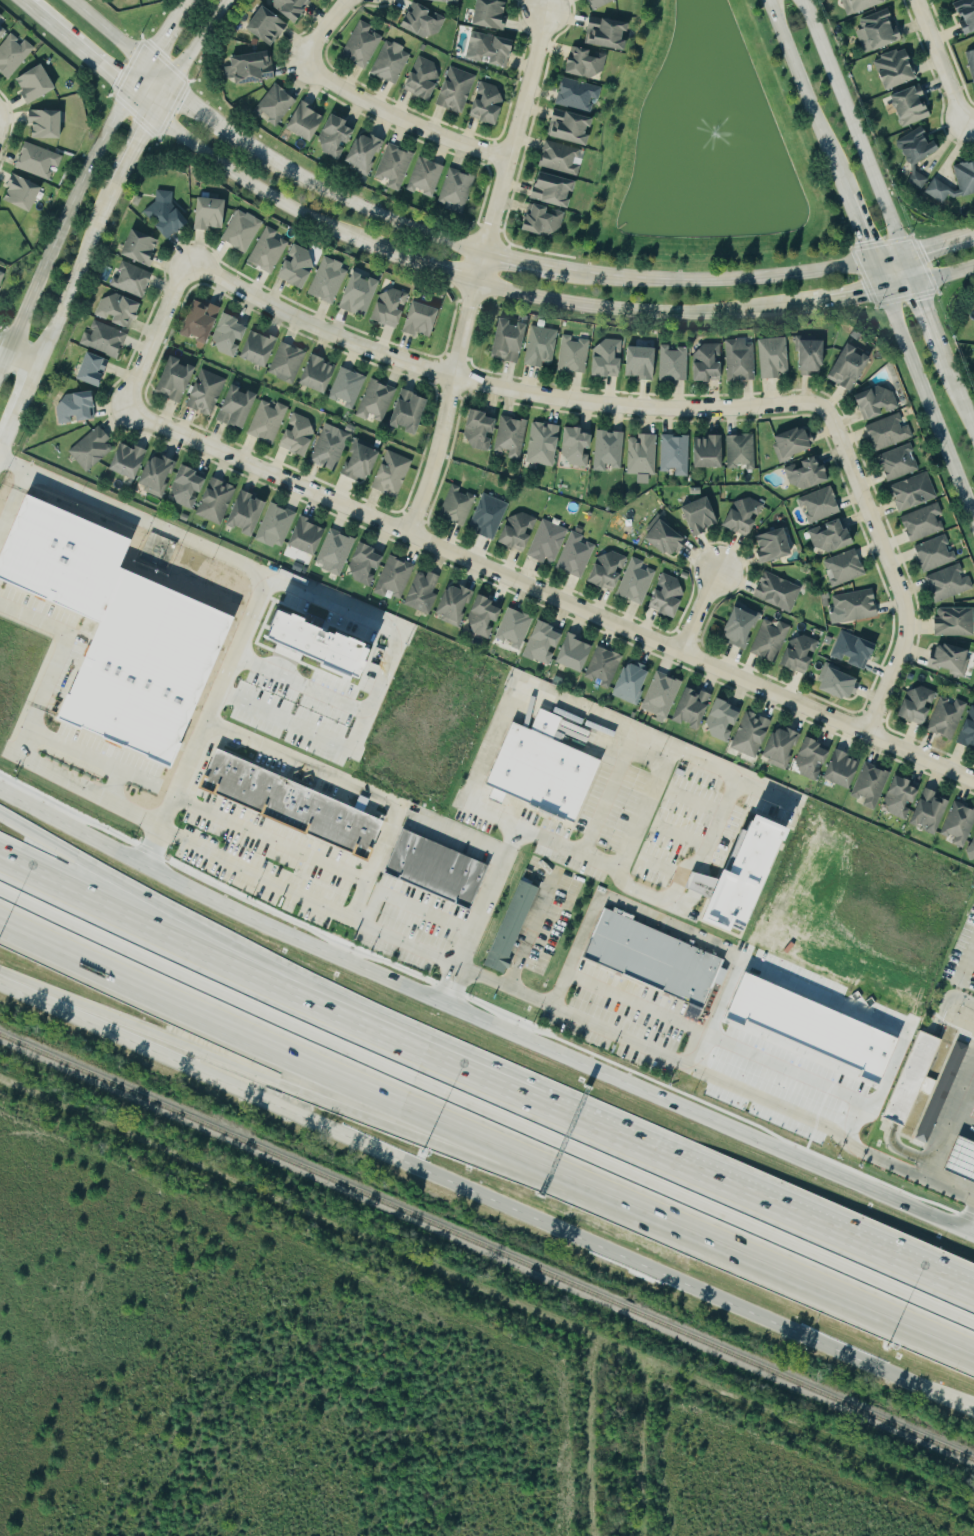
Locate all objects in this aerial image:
road: (23, 1)
building: (450, 1)
road: (184, 3)
building: (601, 3)
building: (862, 5)
building: (293, 8)
building: (493, 14)
building: (967, 15)
building: (1, 16)
building: (425, 21)
building: (269, 26)
road: (322, 27)
building: (2, 31)
building: (879, 31)
road: (105, 32)
building: (610, 34)
road: (161, 35)
building: (363, 45)
road: (75, 46)
building: (493, 49)
building: (13, 55)
road: (187, 55)
building: (972, 59)
building: (391, 62)
road: (937, 62)
building: (588, 64)
traffic signals: (142, 65)
building: (252, 68)
building: (899, 69)
road: (154, 76)
building: (424, 78)
building: (37, 84)
traffic signals: (167, 87)
traffic signals: (127, 90)
building: (457, 90)
building: (580, 95)
road: (805, 98)
road: (139, 101)
building: (276, 104)
building: (489, 104)
building: (914, 106)
road: (193, 110)
traffic signals: (152, 112)
road: (398, 118)
building: (308, 122)
road: (967, 122)
building: (48, 124)
building: (574, 127)
road: (848, 128)
road: (511, 133)
building: (338, 136)
fountain: (705, 141)
building: (921, 147)
road: (129, 153)
building: (366, 153)
building: (563, 159)
building: (40, 160)
building: (395, 167)
building: (426, 177)
building: (919, 179)
building: (938, 183)
building: (457, 190)
building: (556, 190)
building: (20, 192)
road: (264, 193)
building: (0, 206)
road: (64, 212)
building: (212, 214)
building: (169, 216)
building: (546, 221)
road: (858, 229)
building: (243, 231)
road: (937, 246)
building: (143, 248)
building: (269, 251)
traffic signals: (900, 257)
traffic signals: (871, 262)
building: (299, 266)
road: (431, 268)
road: (476, 269)
road: (546, 270)
road: (906, 271)
building: (2, 278)
road: (73, 279)
building: (134, 280)
building: (329, 280)
road: (928, 280)
traffic signals: (912, 285)
traffic signals: (882, 291)
building: (362, 295)
road: (844, 297)
building: (392, 308)
road: (638, 309)
building: (120, 310)
road: (923, 314)
building: (424, 320)
building: (204, 322)
road: (153, 334)
building: (232, 335)
building: (106, 340)
building: (512, 342)
building: (543, 347)
building: (261, 349)
road: (17, 355)
building: (575, 355)
building: (813, 356)
building: (774, 358)
building: (610, 359)
building: (741, 360)
building: (289, 363)
building: (643, 363)
building: (674, 364)
building: (710, 364)
building: (91, 368)
building: (851, 368)
building: (320, 375)
building: (178, 380)
road: (483, 385)
building: (348, 387)
road: (922, 392)
road: (954, 392)
road: (23, 393)
building: (208, 393)
building: (377, 400)
building: (878, 403)
building: (79, 408)
building: (239, 408)
road: (444, 409)
building: (412, 412)
building: (269, 421)
building: (483, 431)
building: (889, 432)
building: (301, 435)
road: (5, 436)
building: (512, 437)
building: (545, 444)
building: (796, 445)
building: (331, 447)
building: (579, 447)
building: (93, 448)
building: (610, 451)
building: (739, 451)
building: (711, 453)
building: (677, 454)
building: (644, 457)
building: (131, 461)
building: (899, 462)
building: (364, 464)
building: (394, 474)
building: (808, 474)
building: (159, 475)
building: (190, 487)
building: (914, 492)
building: (218, 501)
road: (13, 502)
building: (818, 504)
building: (459, 506)
building: (490, 516)
building: (703, 517)
building: (747, 517)
building: (263, 520)
building: (923, 522)
building: (520, 531)
building: (833, 537)
building: (310, 538)
building: (669, 540)
building: (549, 542)
building: (776, 547)
building: (337, 552)
building: (935, 553)
road: (211, 555)
building: (576, 555)
road: (886, 563)
building: (368, 565)
building: (842, 568)
building: (610, 571)
building: (396, 577)
building: (637, 582)
building: (949, 582)
building: (423, 592)
building: (778, 592)
road: (548, 596)
building: (668, 597)
building: (455, 604)
building: (851, 606)
road: (697, 611)
building: (484, 618)
road: (371, 620)
building: (955, 622)
building: (514, 629)
building: (741, 629)
building: (115, 631)
building: (767, 639)
building: (543, 644)
building: (316, 646)
building: (851, 651)
building: (798, 653)
building: (575, 654)
road: (56, 658)
building: (947, 660)
building: (601, 667)
building: (629, 683)
building: (837, 684)
building: (659, 695)
road: (514, 697)
building: (915, 705)
building: (690, 707)
building: (944, 717)
building: (720, 721)
building: (967, 730)
road: (356, 731)
building: (749, 735)
building: (778, 747)
building: (809, 759)
road: (306, 763)
building: (540, 768)
building: (840, 770)
building: (868, 786)
road: (88, 792)
building: (899, 798)
building: (293, 799)
road: (645, 803)
building: (927, 812)
building: (956, 825)
road: (269, 838)
road: (710, 840)
building: (971, 849)
building: (435, 869)
building: (743, 877)
road: (334, 912)
building: (505, 927)
road: (39, 931)
road: (530, 937)
road: (727, 955)
building: (650, 957)
road: (972, 958)
road: (316, 984)
road: (449, 988)
road: (632, 999)
road: (318, 1004)
road: (77, 1008)
parking lot: (626, 1010)
building: (808, 1025)
road: (484, 1026)
building: (955, 1048)
building: (910, 1079)
building: (927, 1105)
road: (964, 1118)
road: (949, 1124)
road: (829, 1128)
road: (416, 1138)
road: (525, 1143)
building: (961, 1159)
gas station: (961, 1159)
road: (805, 1220)
road: (564, 1222)
road: (970, 1234)
railway: (487, 1247)

